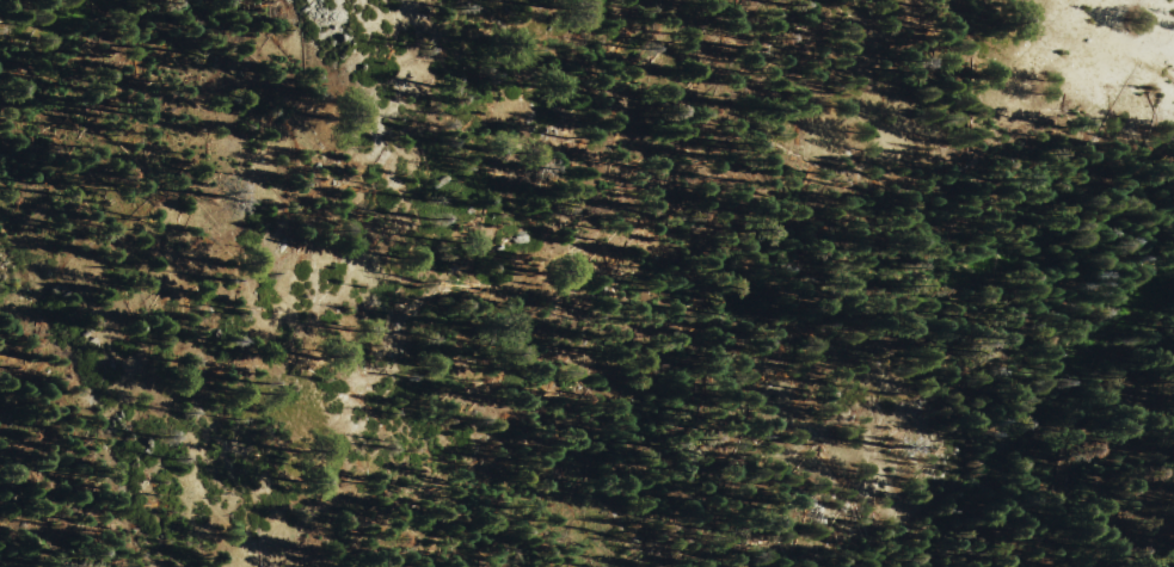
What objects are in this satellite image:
road: (164, 267)

